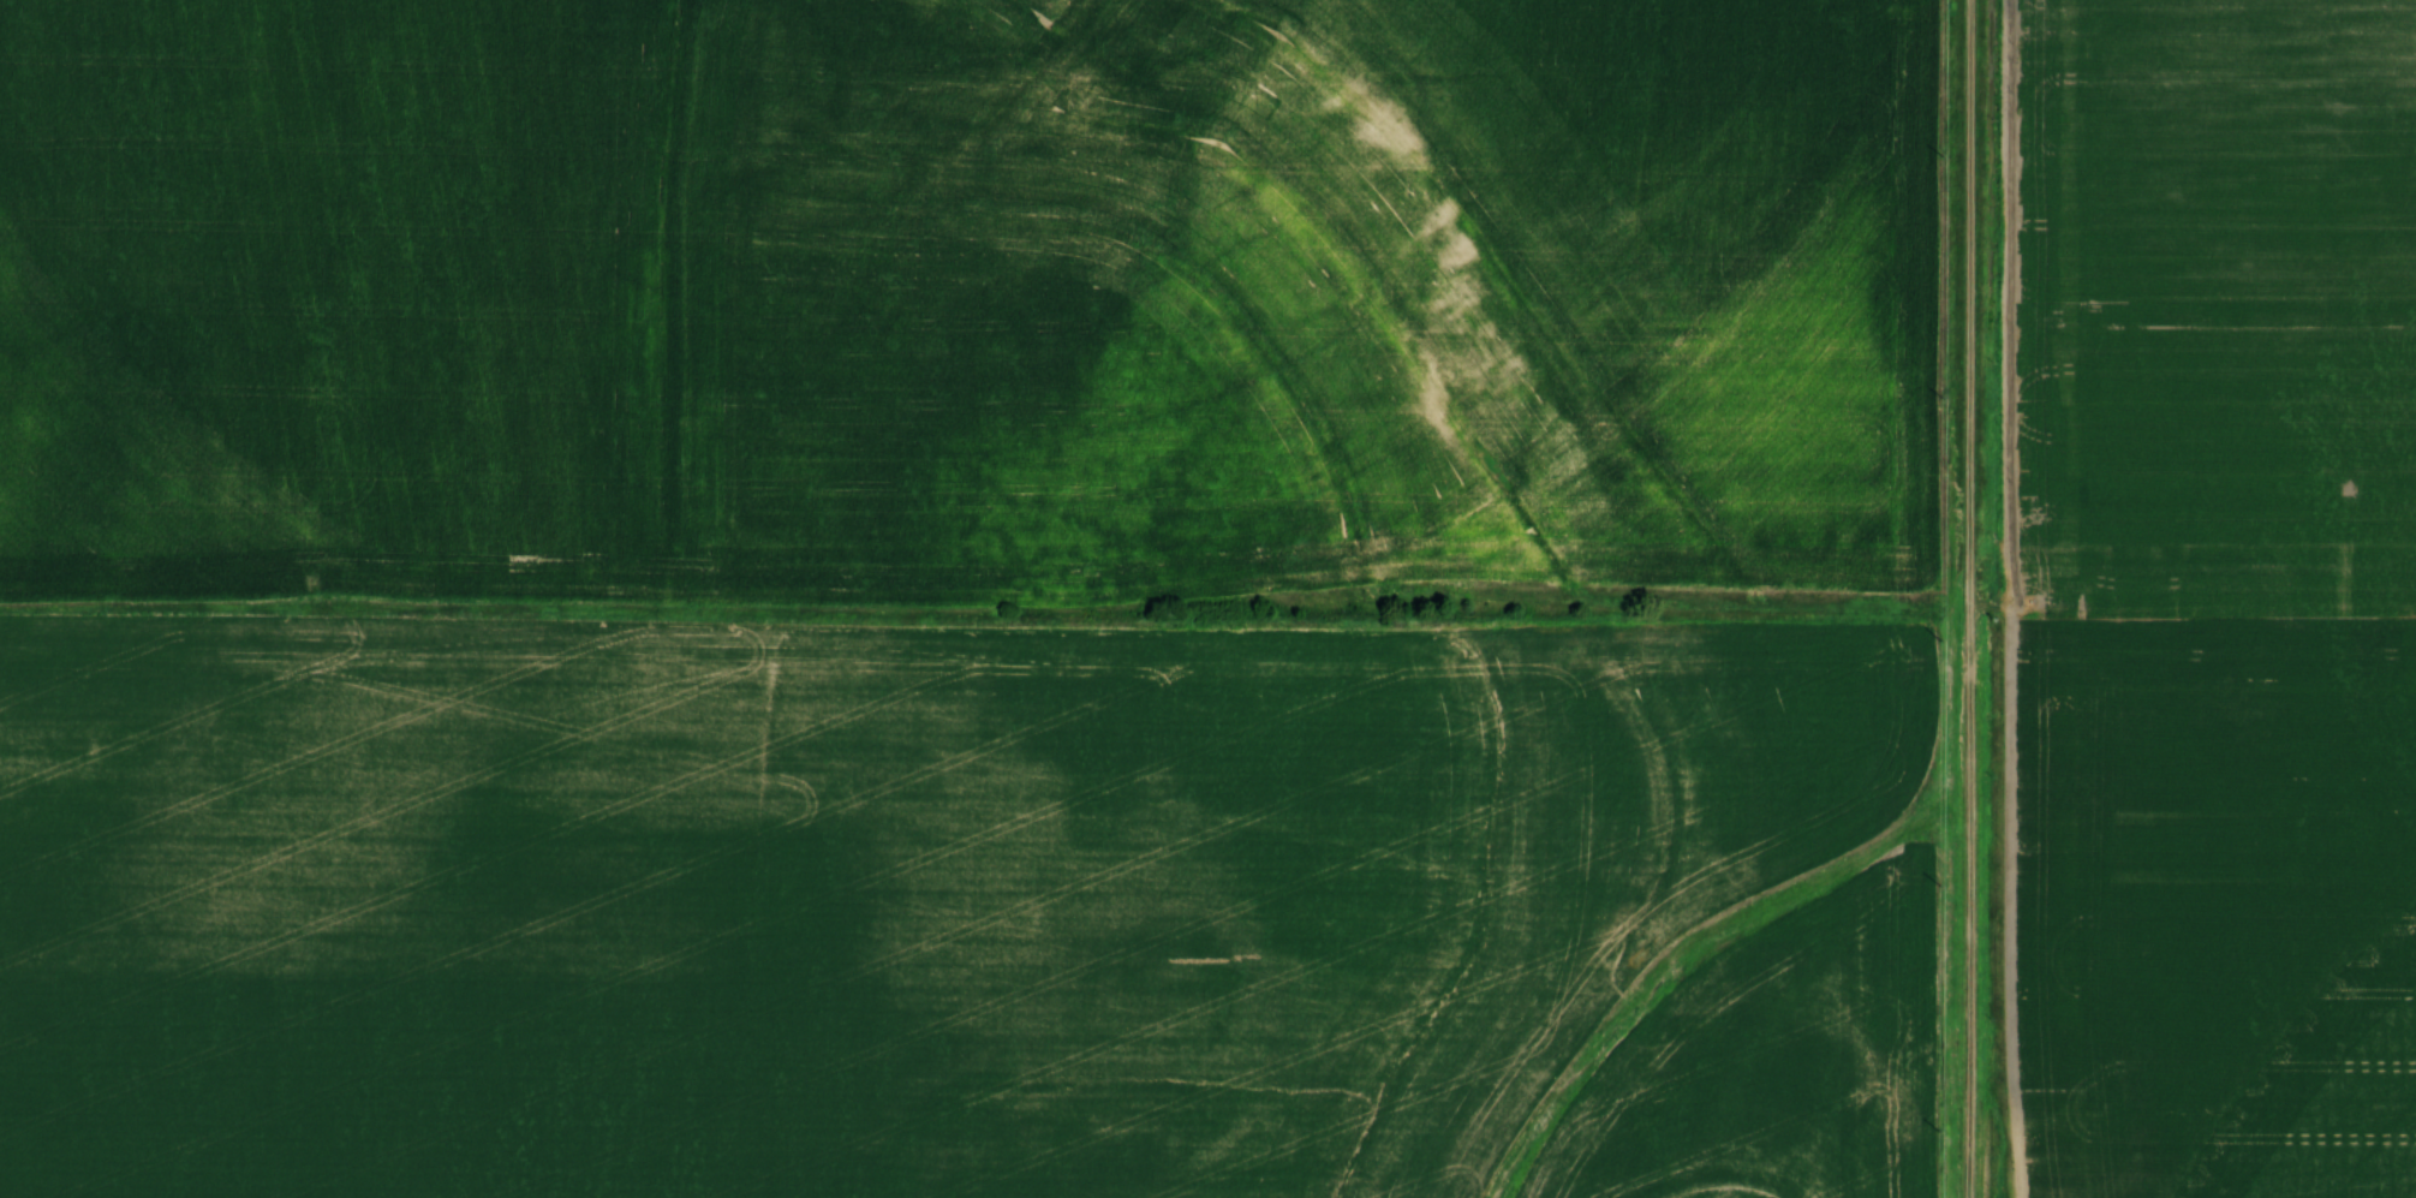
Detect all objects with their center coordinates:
road: (1967, 598)

